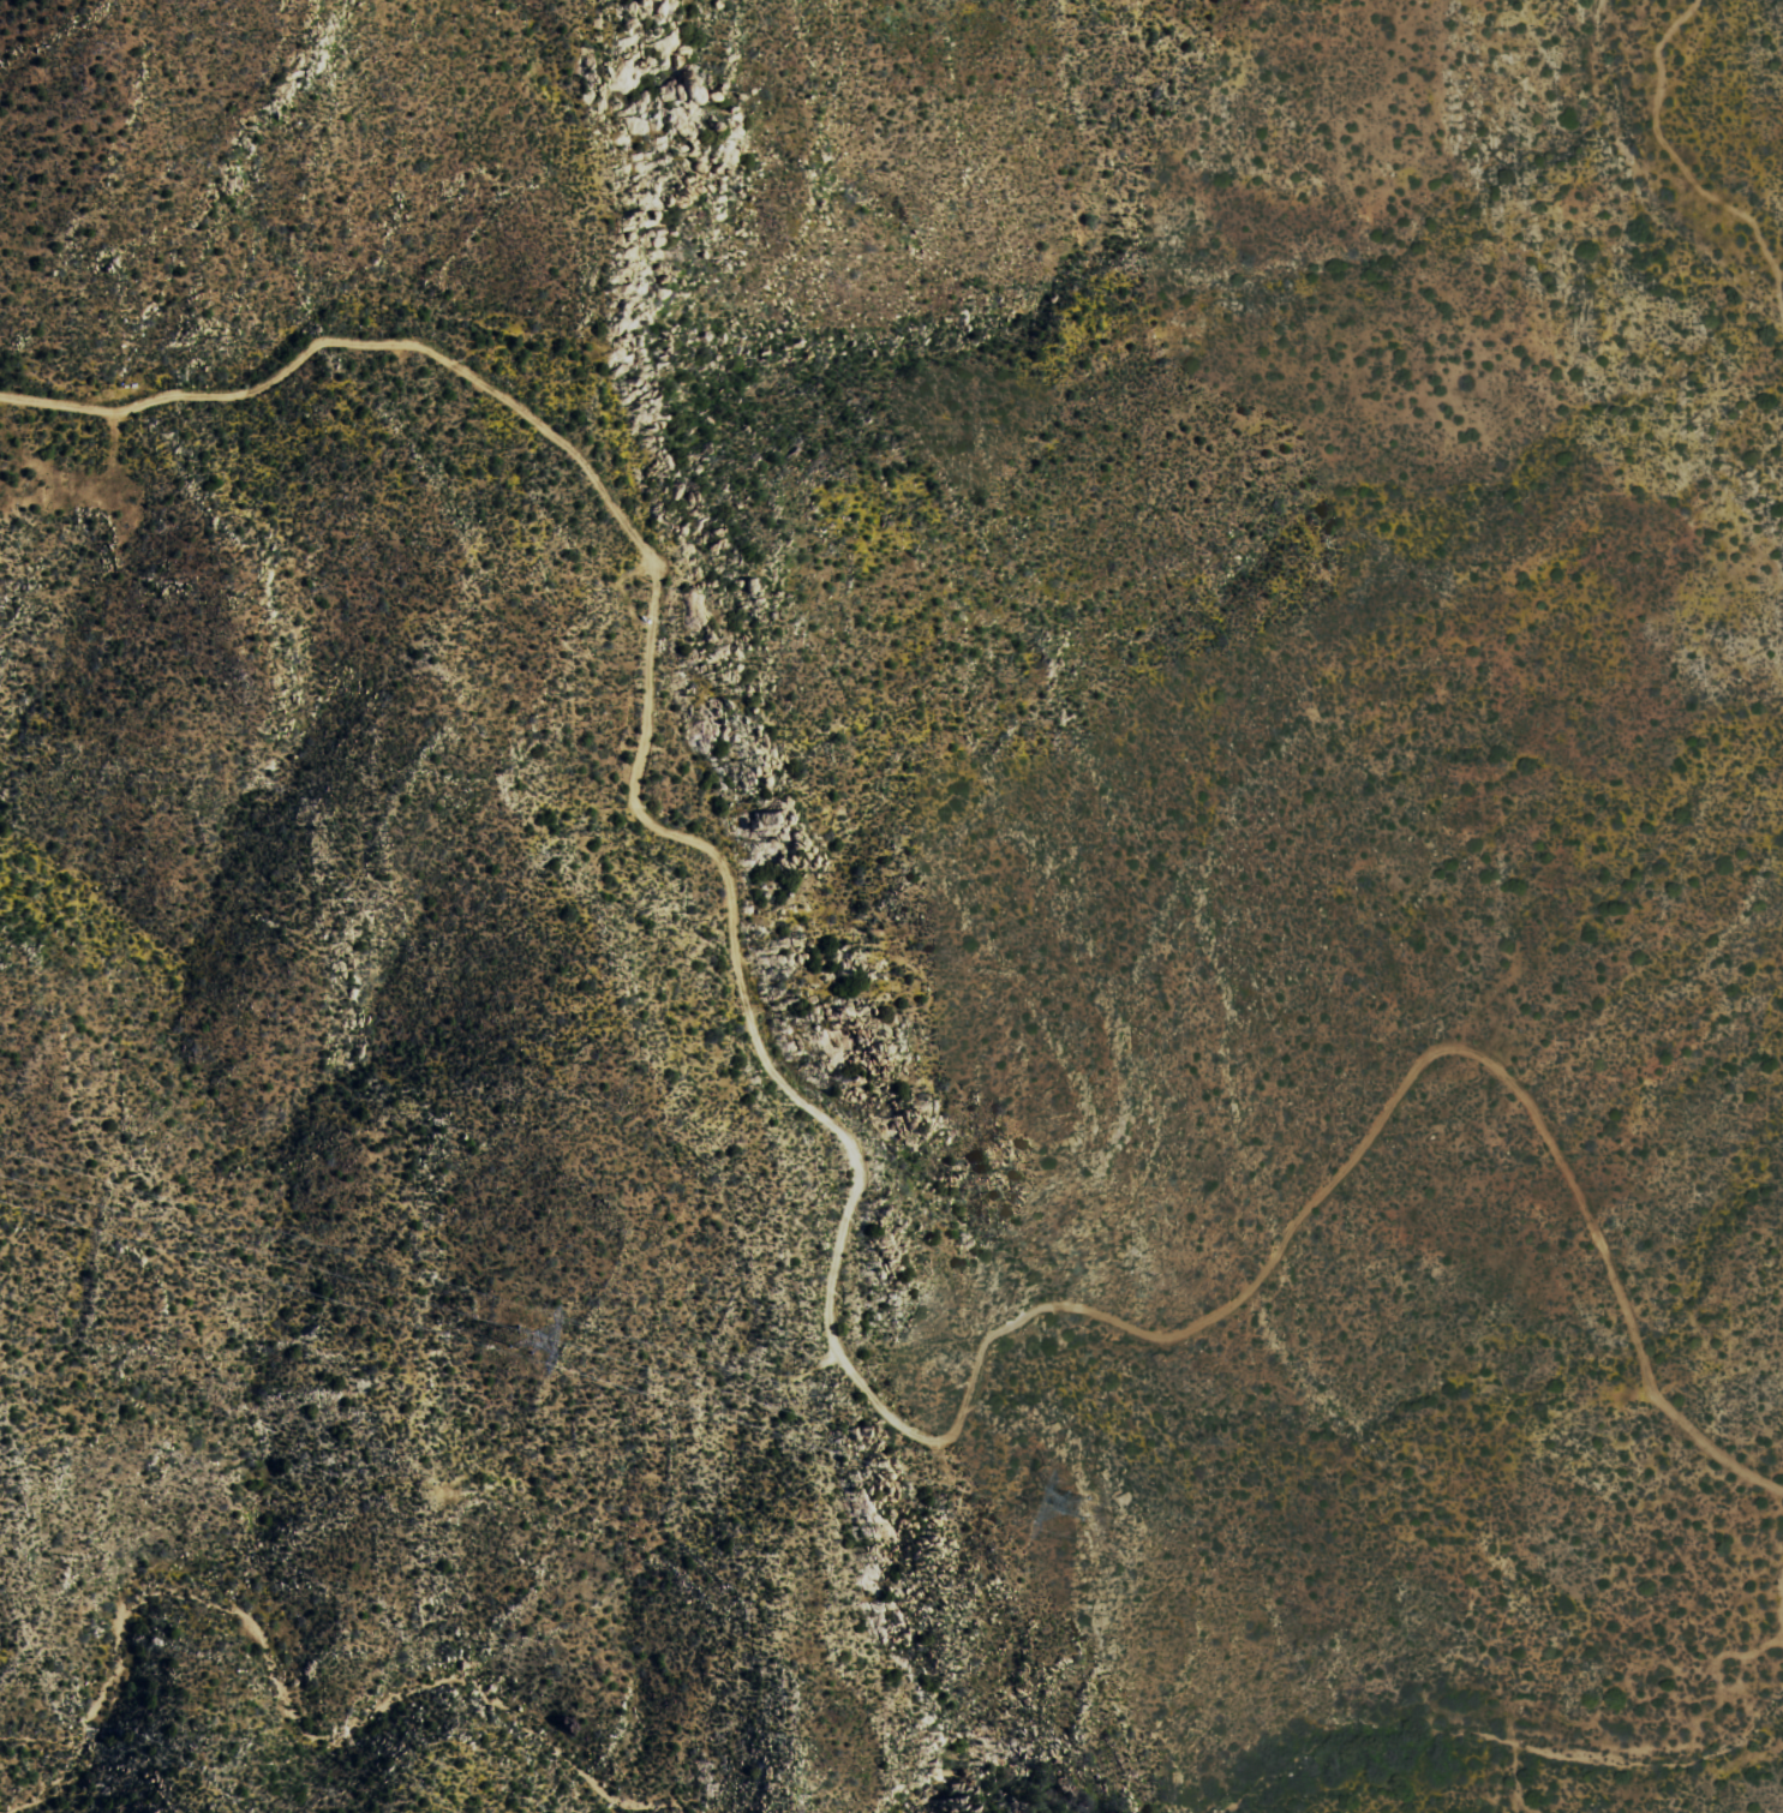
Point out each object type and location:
power tower: (521, 1341)
power tower: (1077, 1519)

